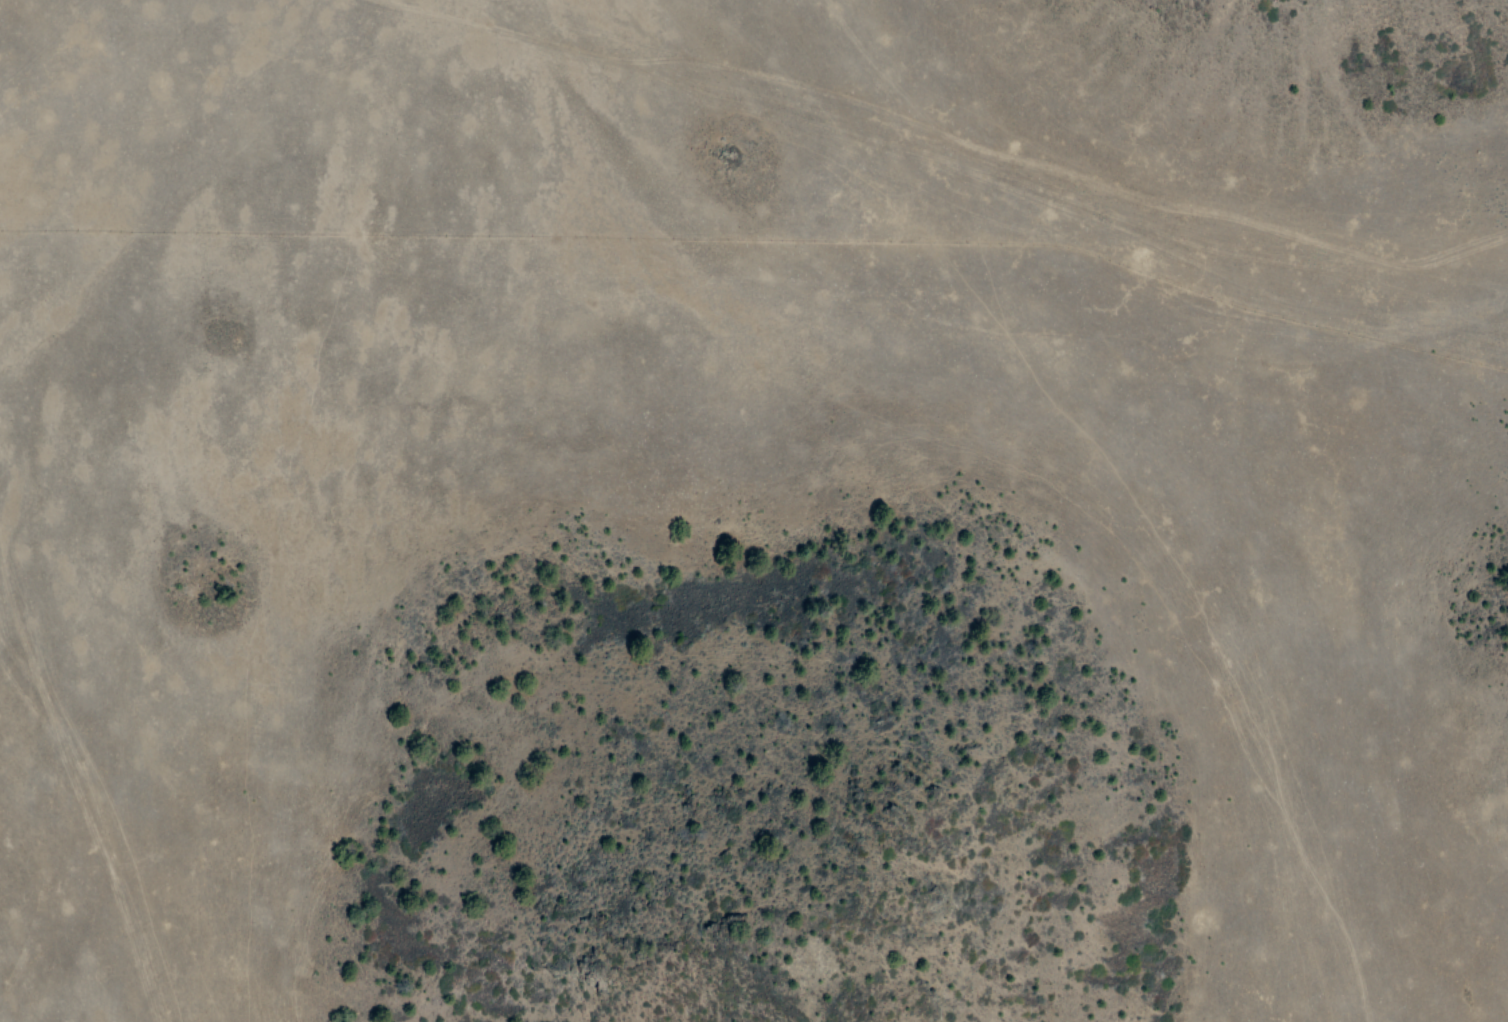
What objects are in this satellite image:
road: (1366, 256)

